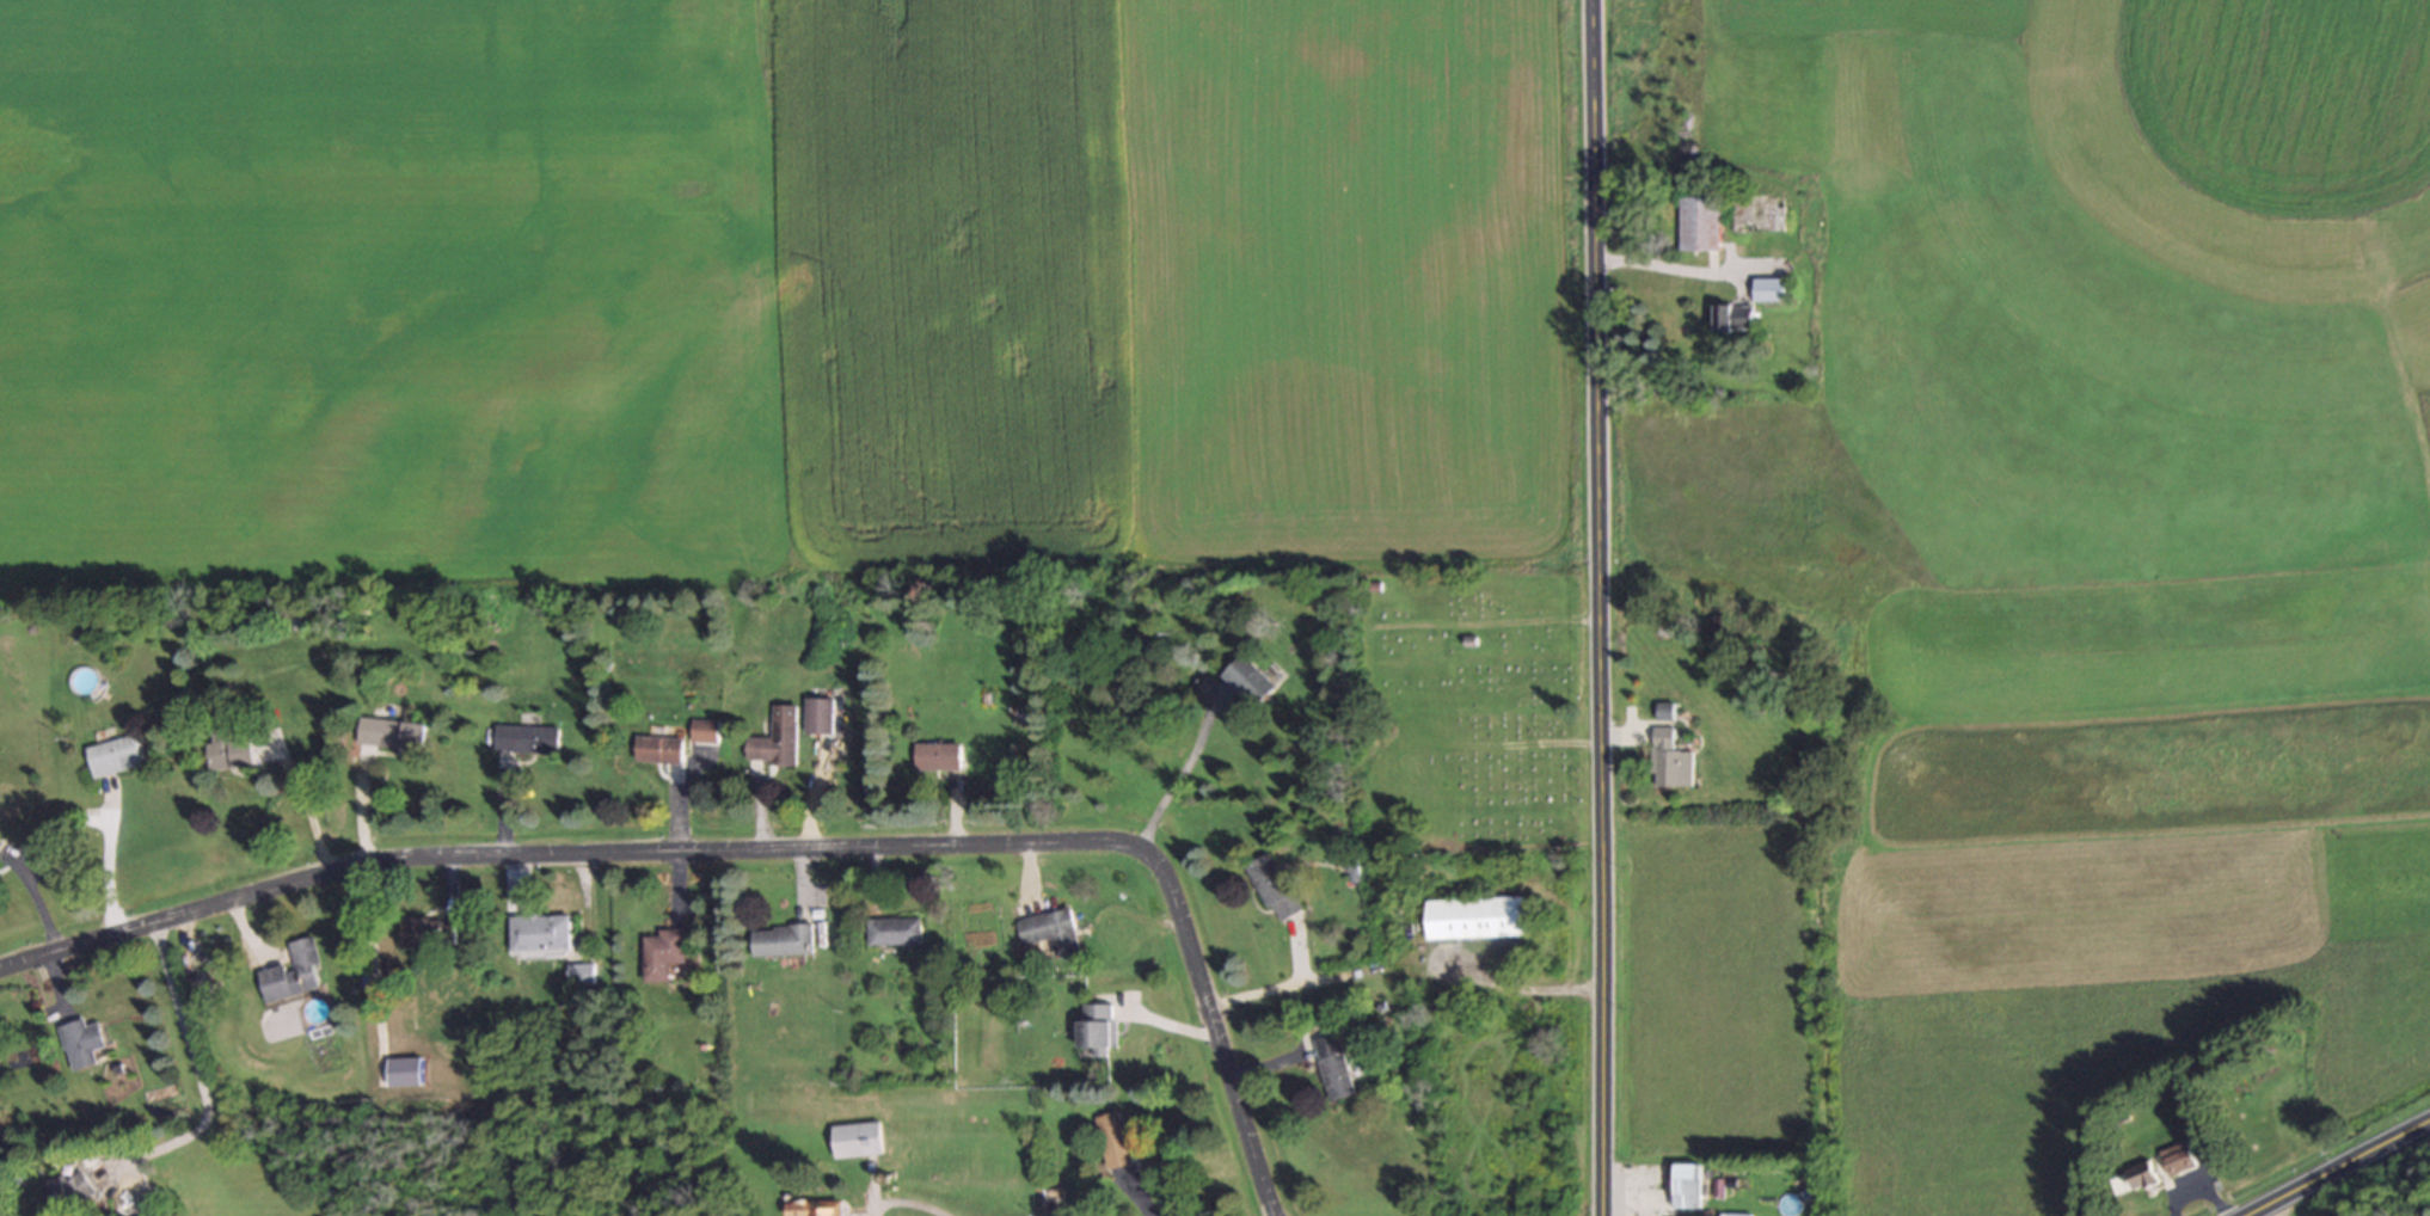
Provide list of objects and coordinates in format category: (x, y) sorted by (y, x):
building: (1757, 214)
building: (1698, 222)
building: (1767, 289)
building: (1732, 318)
road: (1598, 608)
building: (1247, 678)
building: (1661, 710)
building: (815, 716)
building: (700, 730)
building: (388, 733)
building: (523, 738)
building: (771, 738)
building: (227, 749)
building: (656, 749)
building: (113, 755)
building: (934, 756)
building: (1667, 760)
road: (1182, 770)
building: (0, 843)
road: (548, 853)
building: (1270, 886)
building: (1473, 917)
building: (890, 931)
building: (1045, 931)
building: (427, 932)
building: (538, 932)
building: (778, 939)
building: (658, 952)
building: (293, 971)
building: (576, 974)
road: (1203, 1014)
building: (1093, 1030)
building: (82, 1043)
road: (192, 1058)
building: (1330, 1065)
building: (854, 1140)
building: (1111, 1140)
building: (2177, 1159)
road: (2348, 1173)
building: (2131, 1178)
building: (1685, 1185)
building: (66, 1191)
road: (901, 1200)
building: (811, 1209)
building: (1732, 1215)

